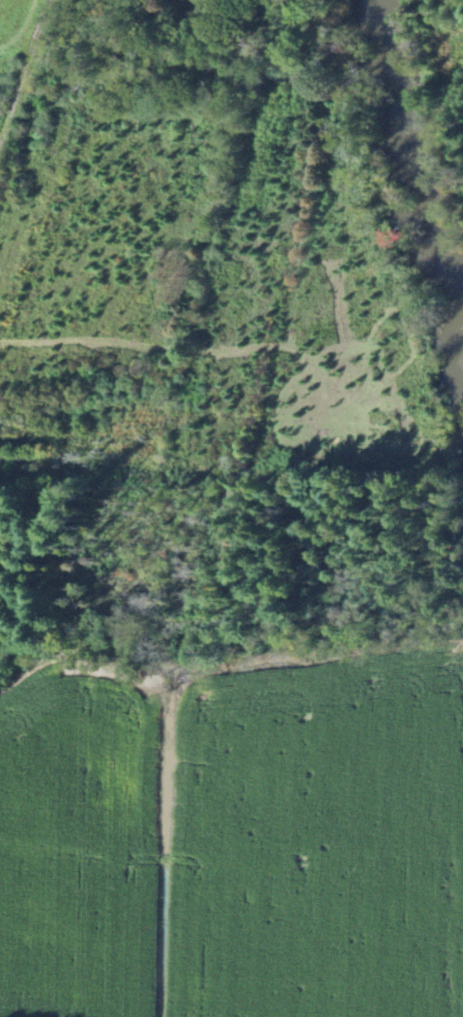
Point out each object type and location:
river: (381, 40)
railway: (25, 73)
river: (422, 230)

